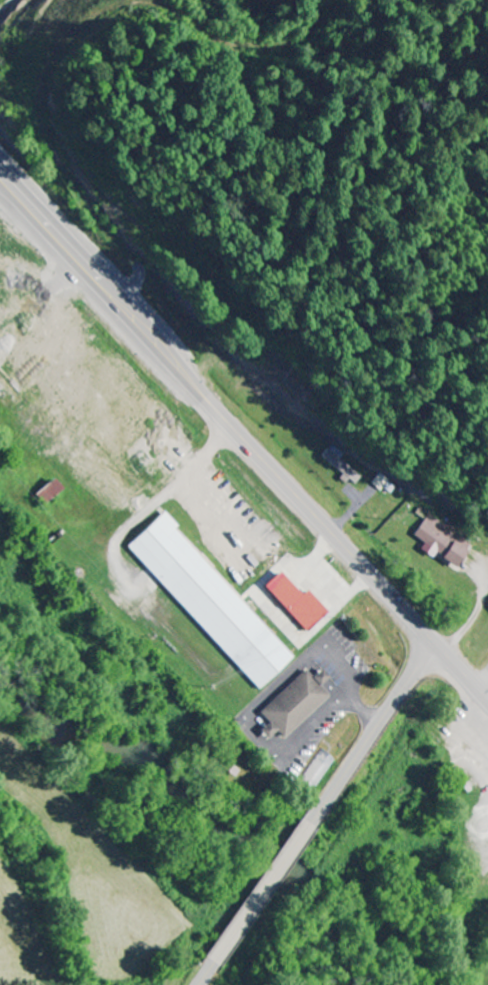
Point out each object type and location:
road: (244, 439)
building: (339, 464)
building: (44, 492)
building: (441, 542)
building: (206, 602)
building: (293, 603)
building: (291, 705)
road: (370, 732)
river: (205, 809)
road: (261, 892)
road: (204, 973)

